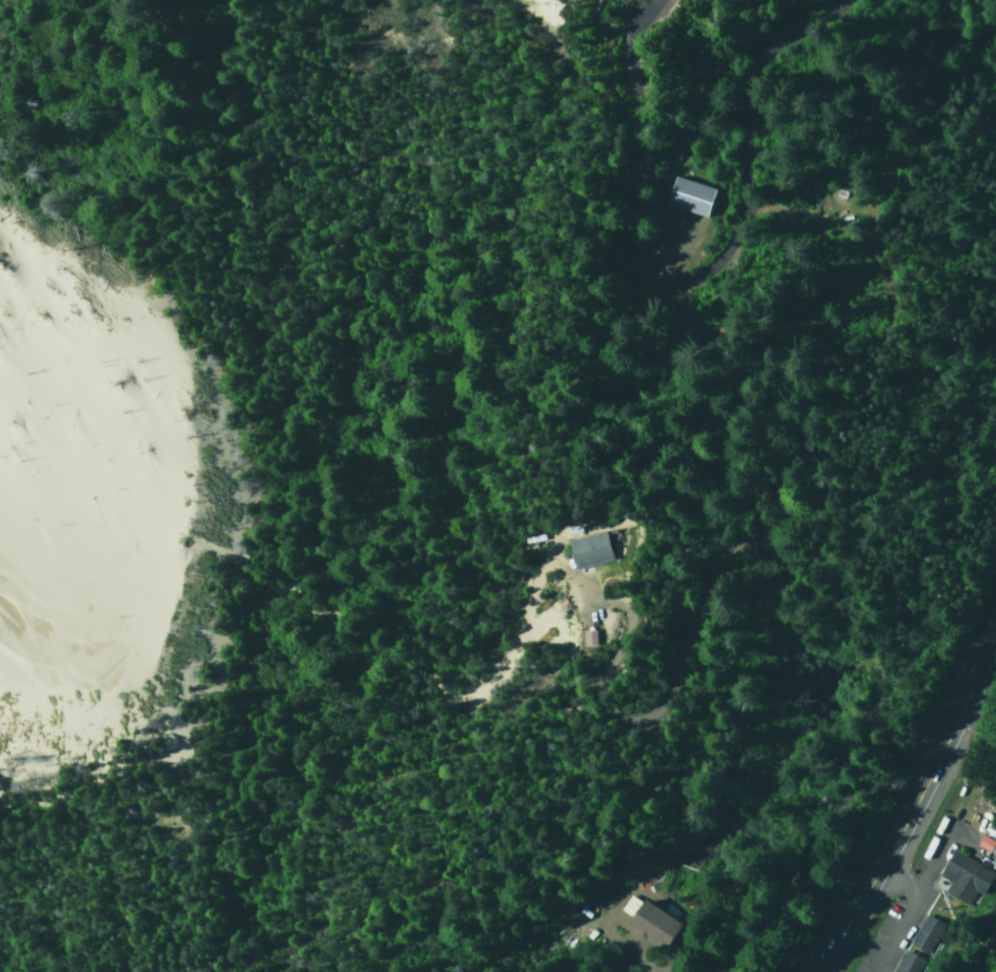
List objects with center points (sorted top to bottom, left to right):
building: (688, 194)
road: (743, 536)
building: (585, 548)
road: (907, 807)
building: (984, 842)
building: (966, 871)
building: (651, 923)
building: (907, 962)

